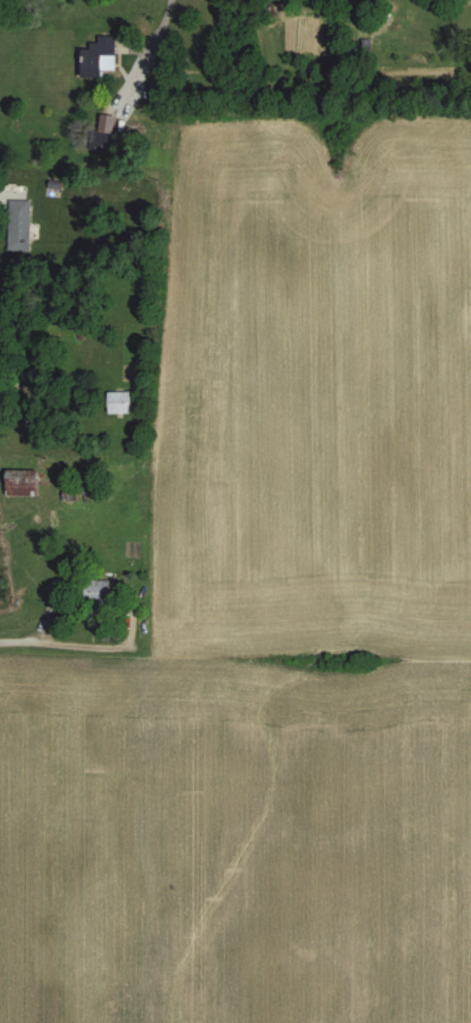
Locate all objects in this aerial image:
road: (160, 26)
building: (94, 56)
building: (101, 141)
building: (17, 225)
building: (115, 403)
building: (15, 486)
building: (99, 593)
road: (37, 631)

